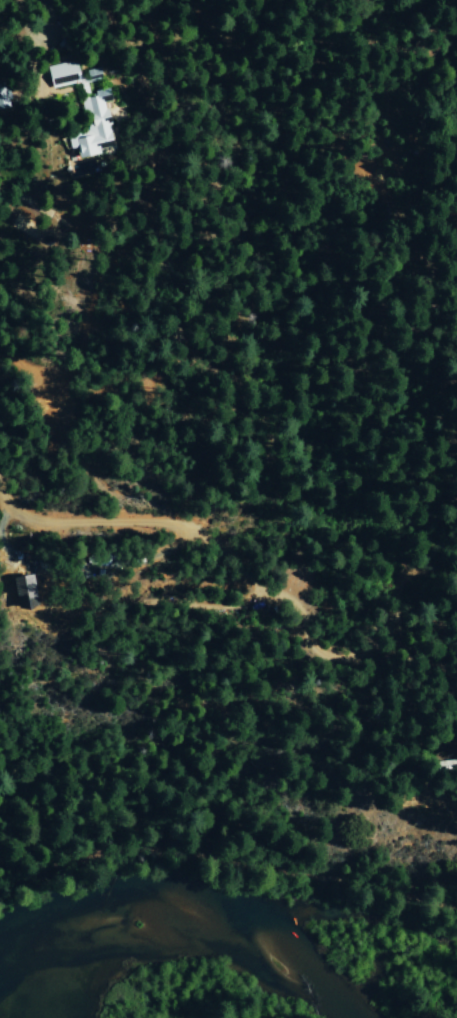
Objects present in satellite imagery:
building: (85, 109)
road: (222, 545)
building: (23, 591)
road: (229, 860)

